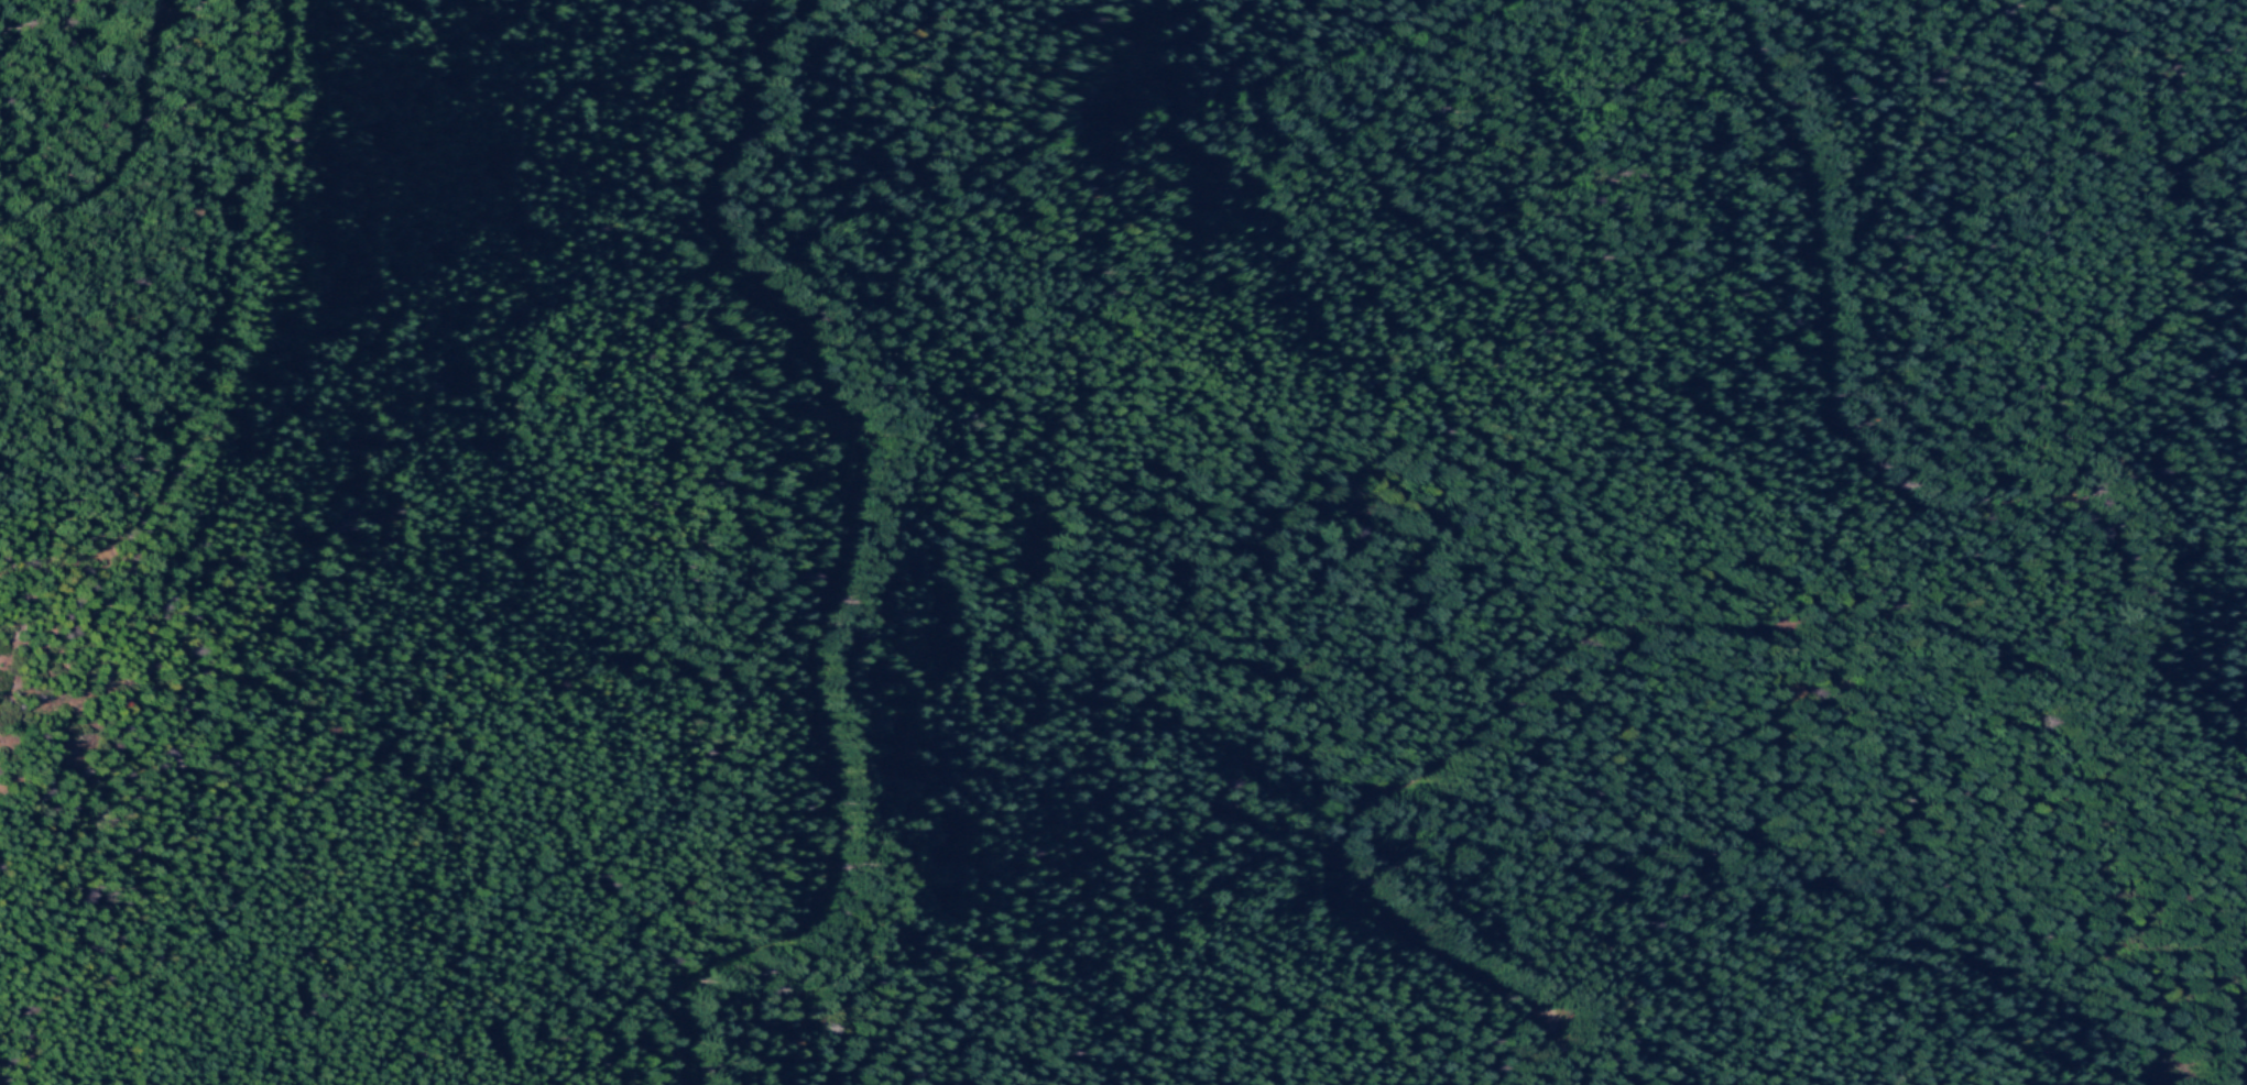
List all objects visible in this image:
road: (91, 118)

